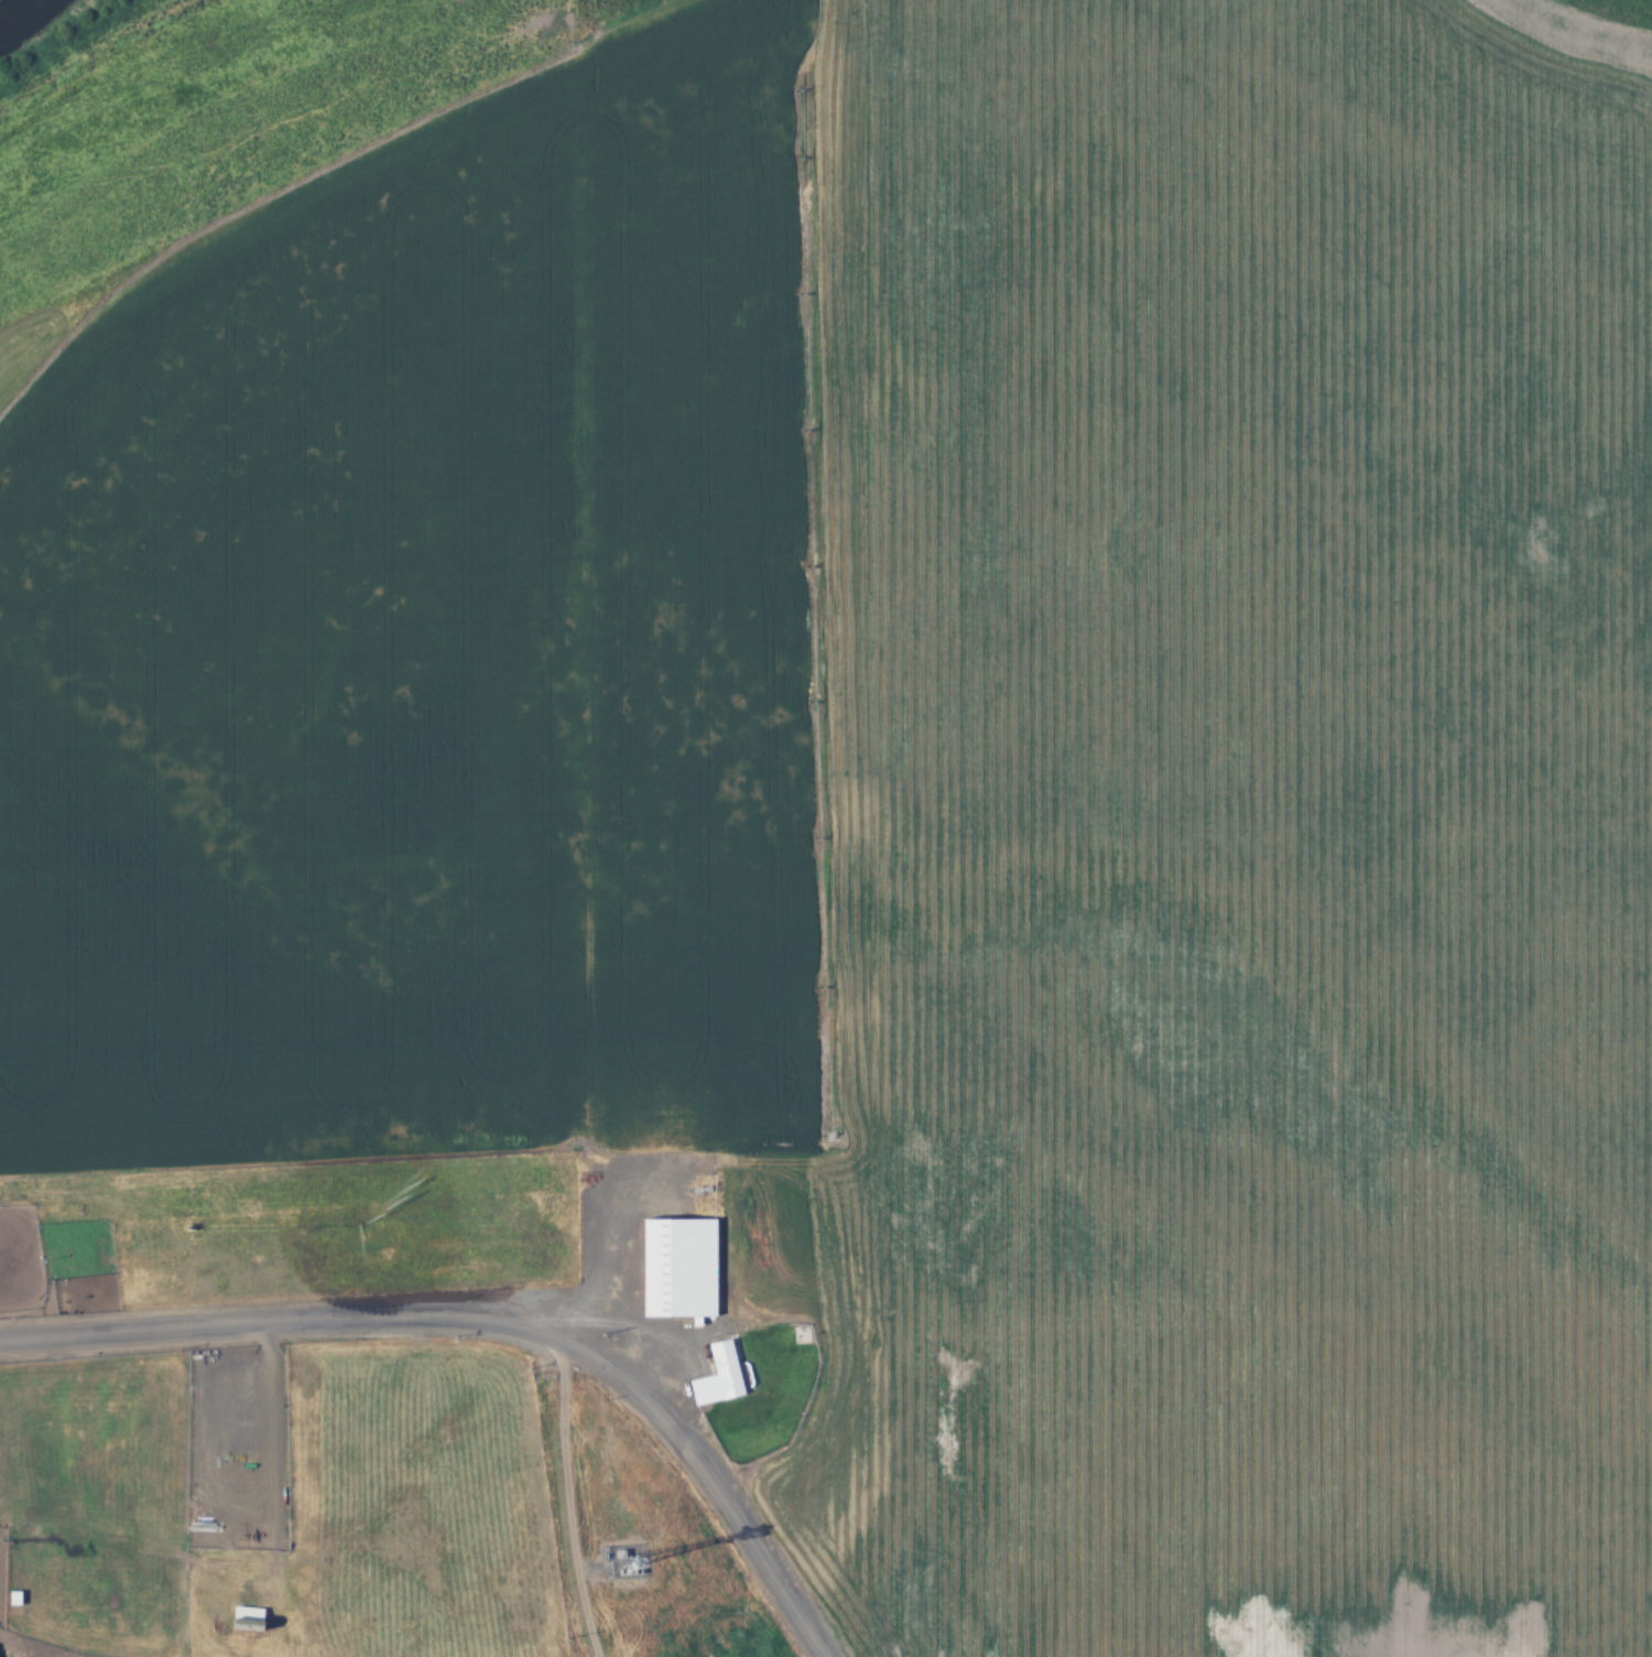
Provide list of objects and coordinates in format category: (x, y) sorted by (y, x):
river: (17, 10)
crop: (1219, 630)
crop: (442, 637)
building: (676, 1265)
road: (487, 1328)
building: (717, 1373)
crop: (1218, 1398)
road: (572, 1503)
building: (242, 1612)

